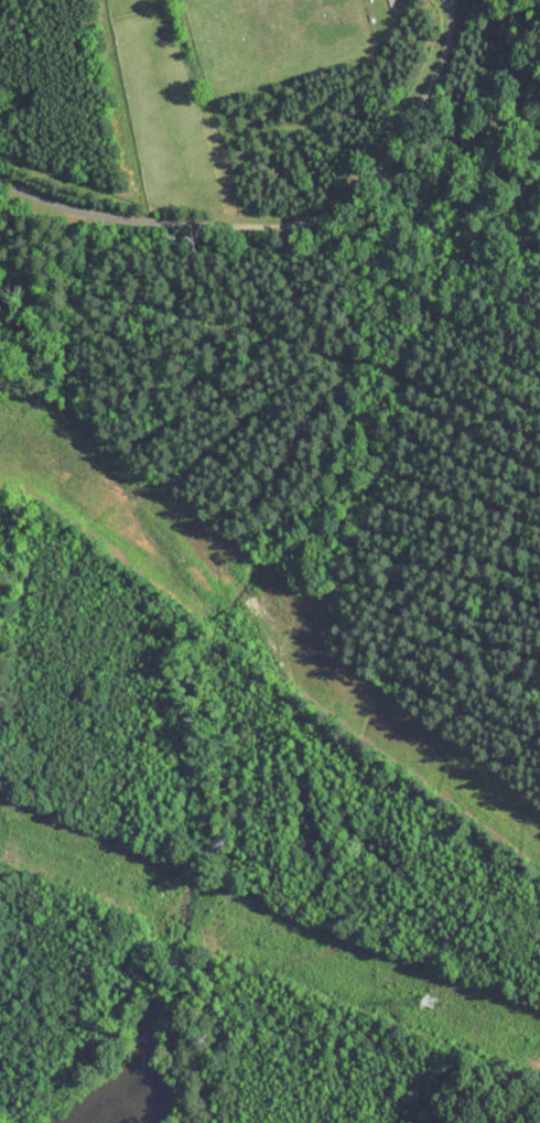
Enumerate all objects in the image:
road: (292, 226)
power tower: (432, 1001)

